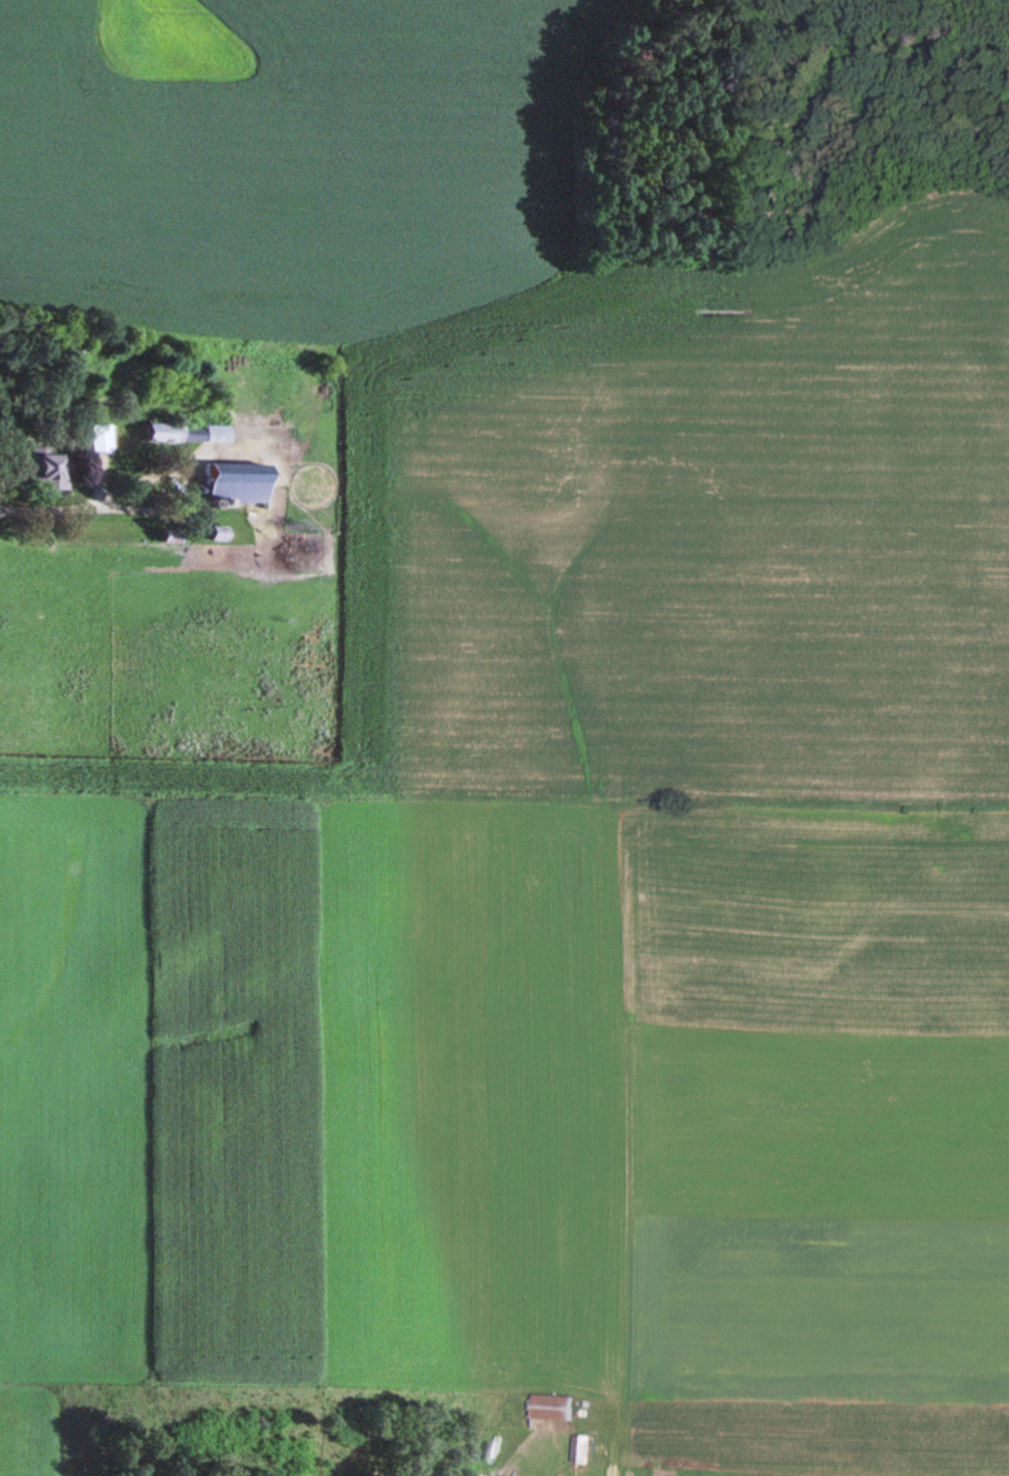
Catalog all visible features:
building: (190, 434)
building: (47, 471)
building: (233, 489)
road: (60, 504)
building: (551, 1400)
building: (581, 1450)

